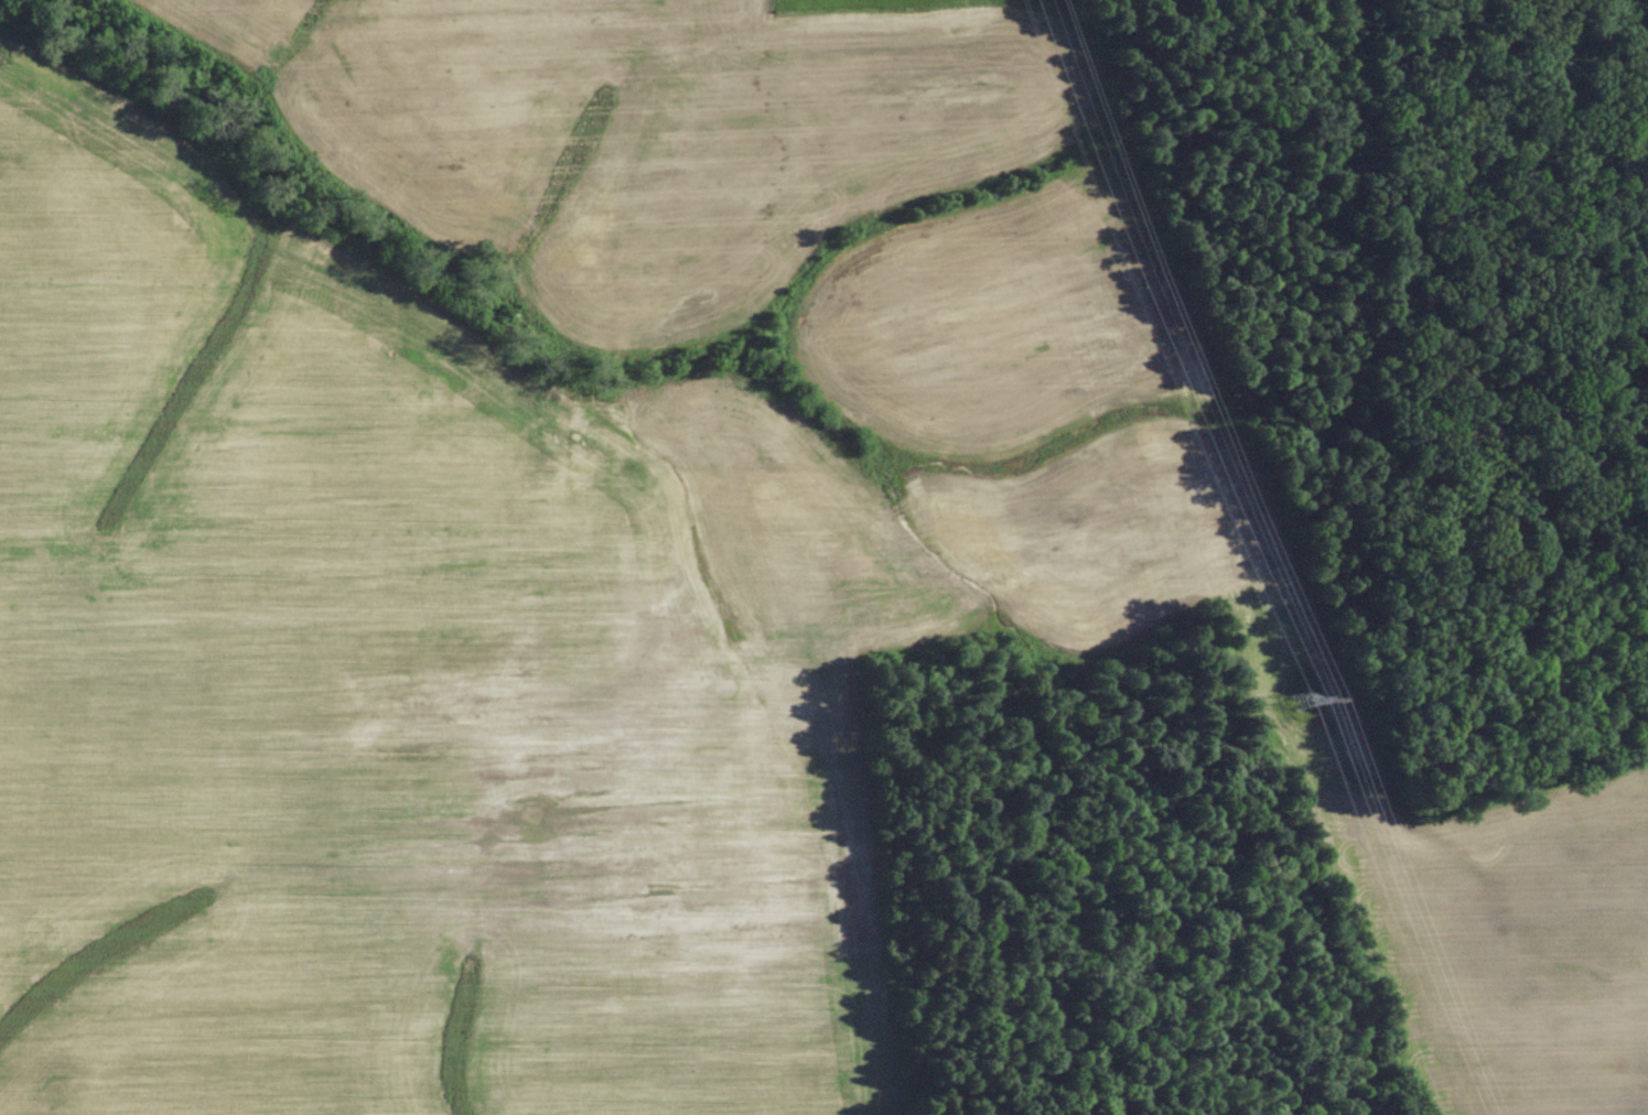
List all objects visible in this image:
power tower: (1299, 700)

